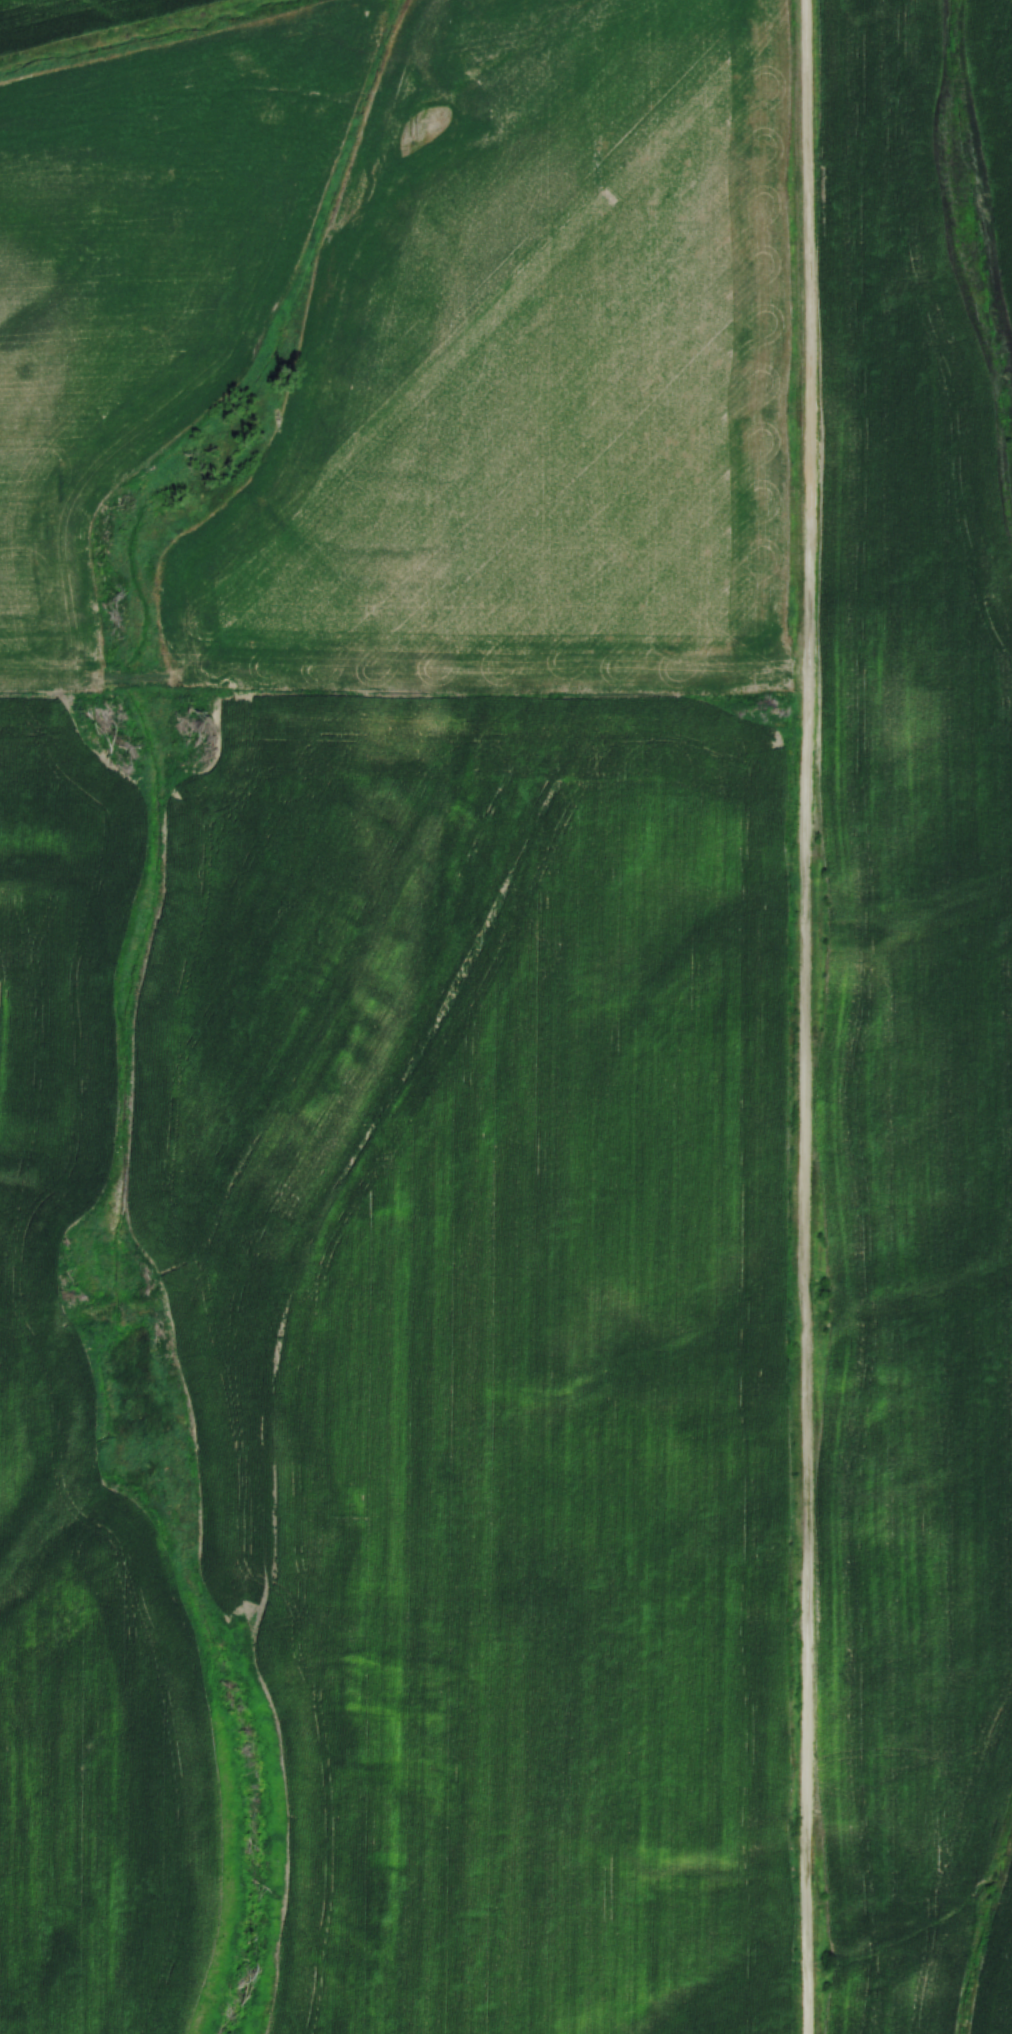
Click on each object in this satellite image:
road: (808, 1017)

